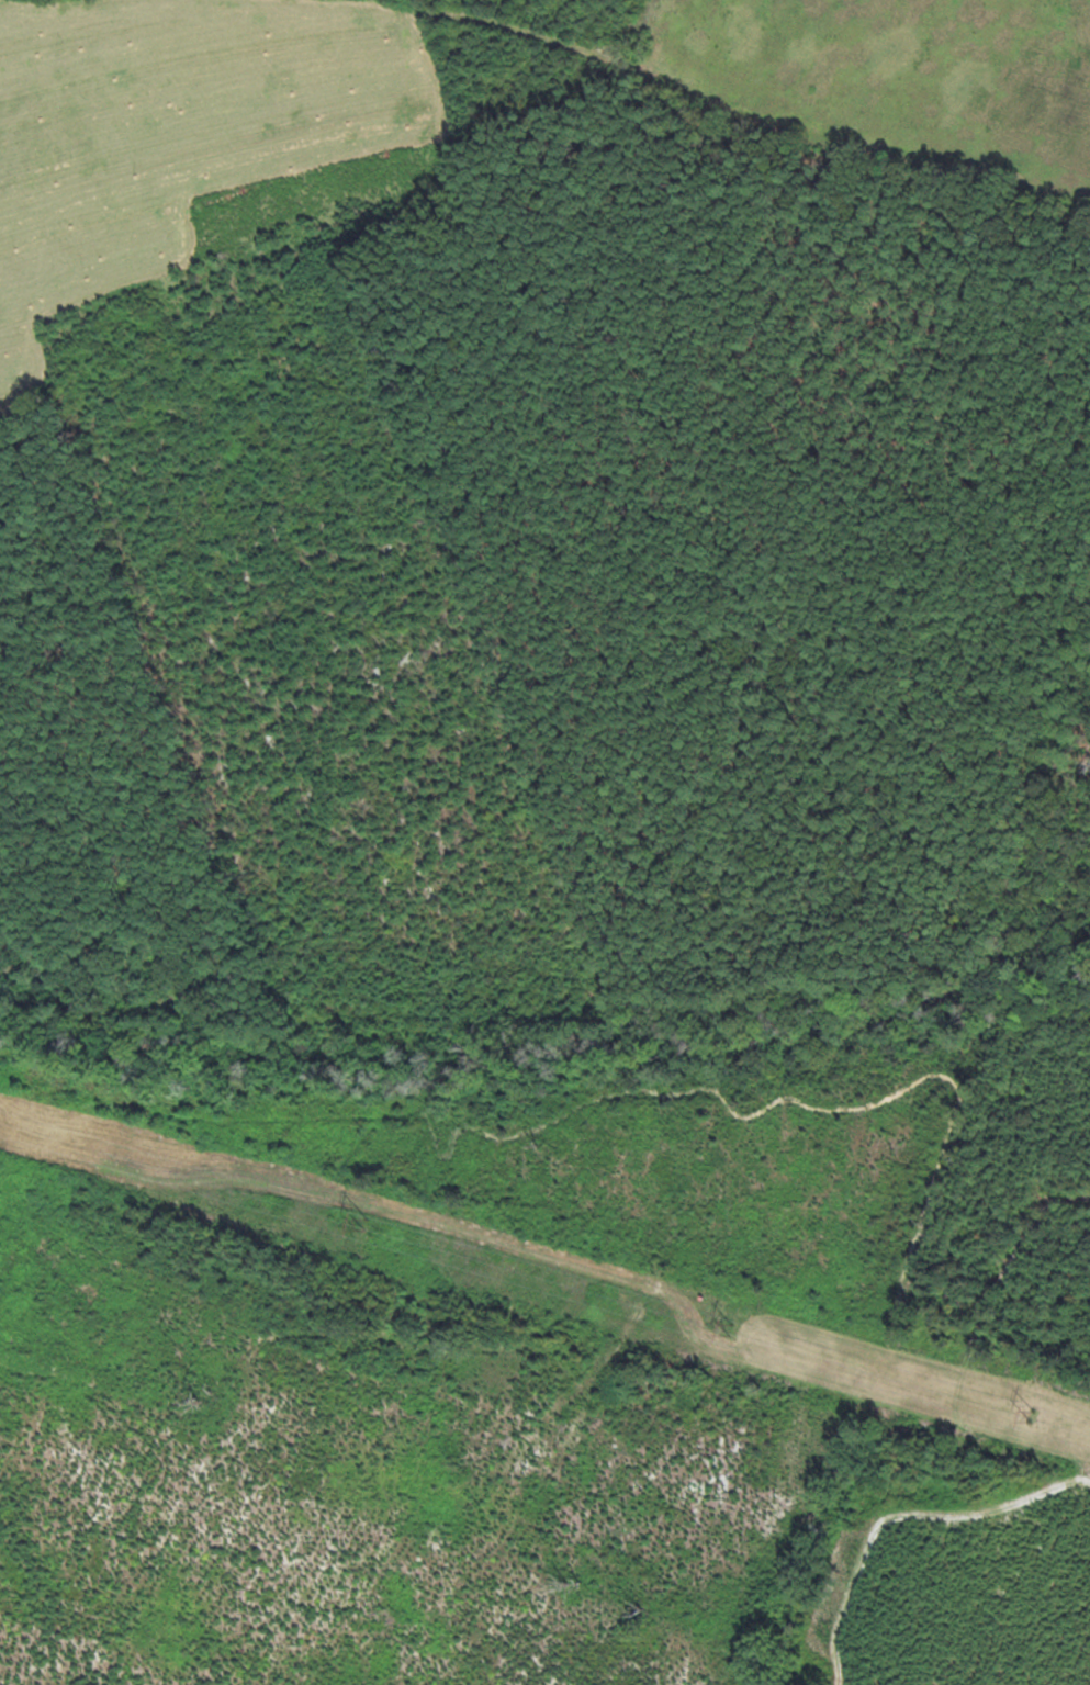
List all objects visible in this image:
power tower: (371, 1224)
power tower: (733, 1329)
power tower: (1034, 1413)

